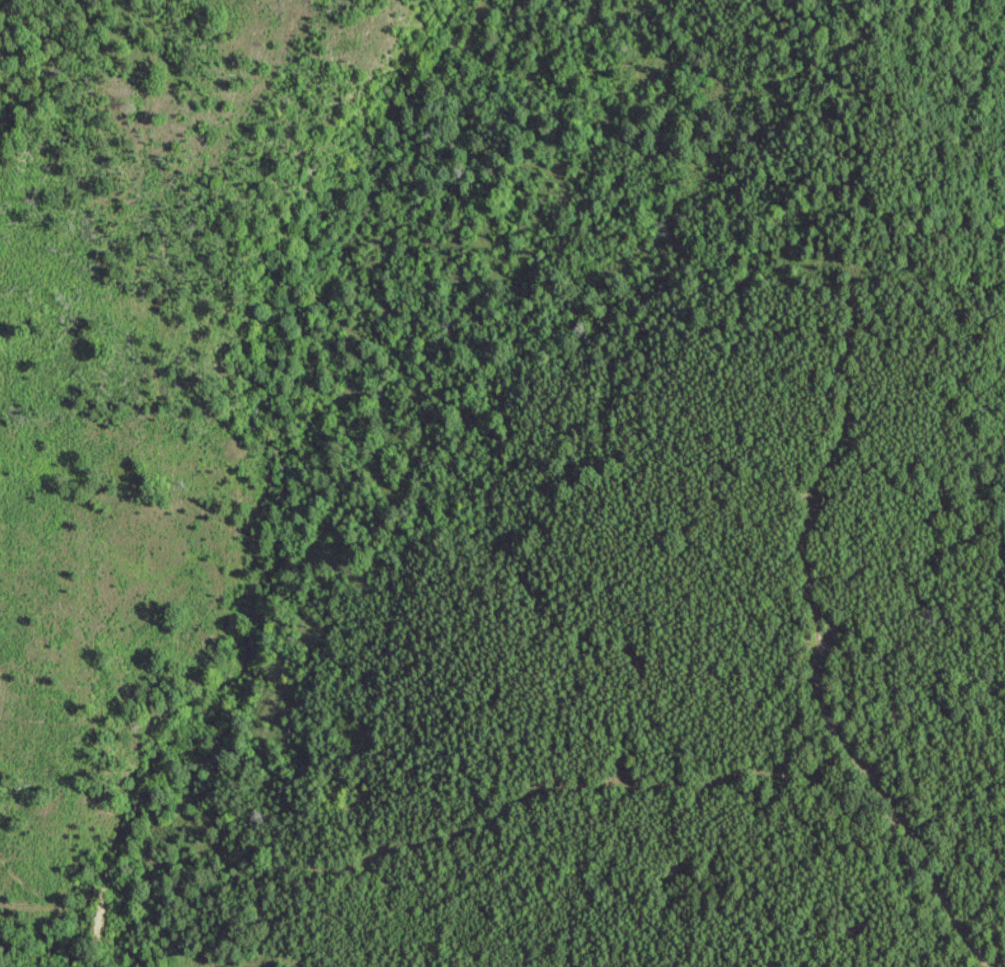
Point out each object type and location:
road: (541, 801)

